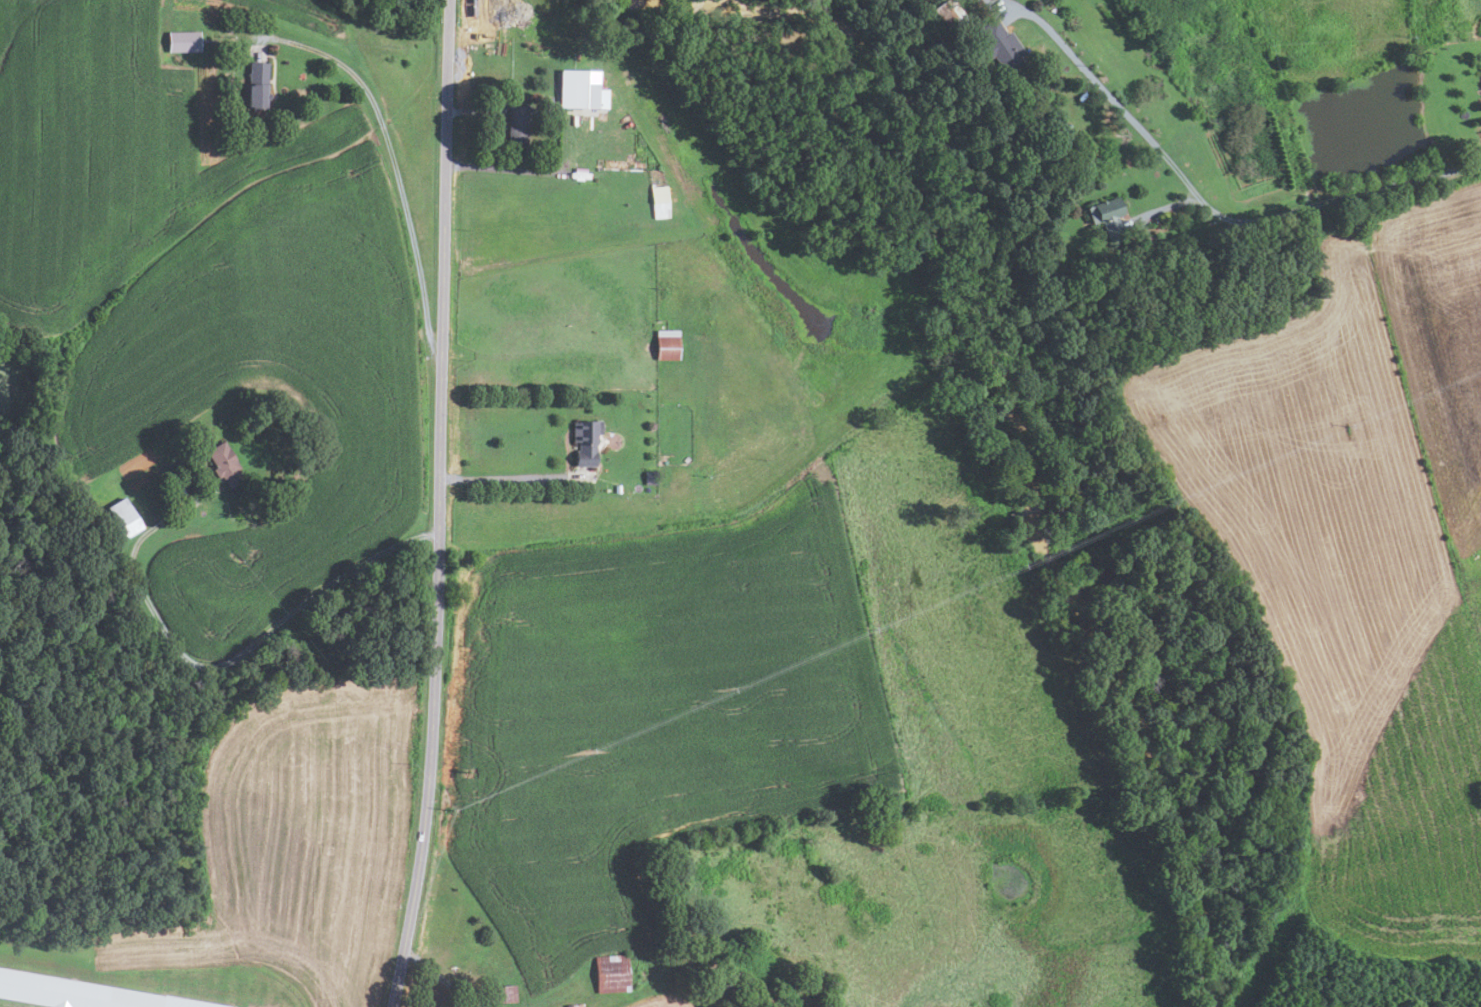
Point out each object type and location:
crop: (302, 12)
building: (951, 14)
building: (184, 41)
building: (1000, 45)
building: (258, 86)
building: (582, 90)
road: (473, 110)
building: (519, 125)
road: (395, 169)
road: (517, 170)
building: (660, 201)
road: (1208, 206)
road: (1166, 208)
building: (1108, 216)
crop: (207, 299)
building: (668, 345)
building: (587, 442)
building: (225, 464)
road: (503, 477)
building: (652, 478)
building: (618, 489)
road: (438, 505)
building: (124, 517)
crop: (1361, 554)
road: (237, 655)
crop: (651, 717)
crop: (312, 833)
building: (613, 974)
road: (439, 977)
building: (731, 982)
building: (77, 993)
building: (500, 994)
crop: (663, 1003)
building: (575, 1005)

